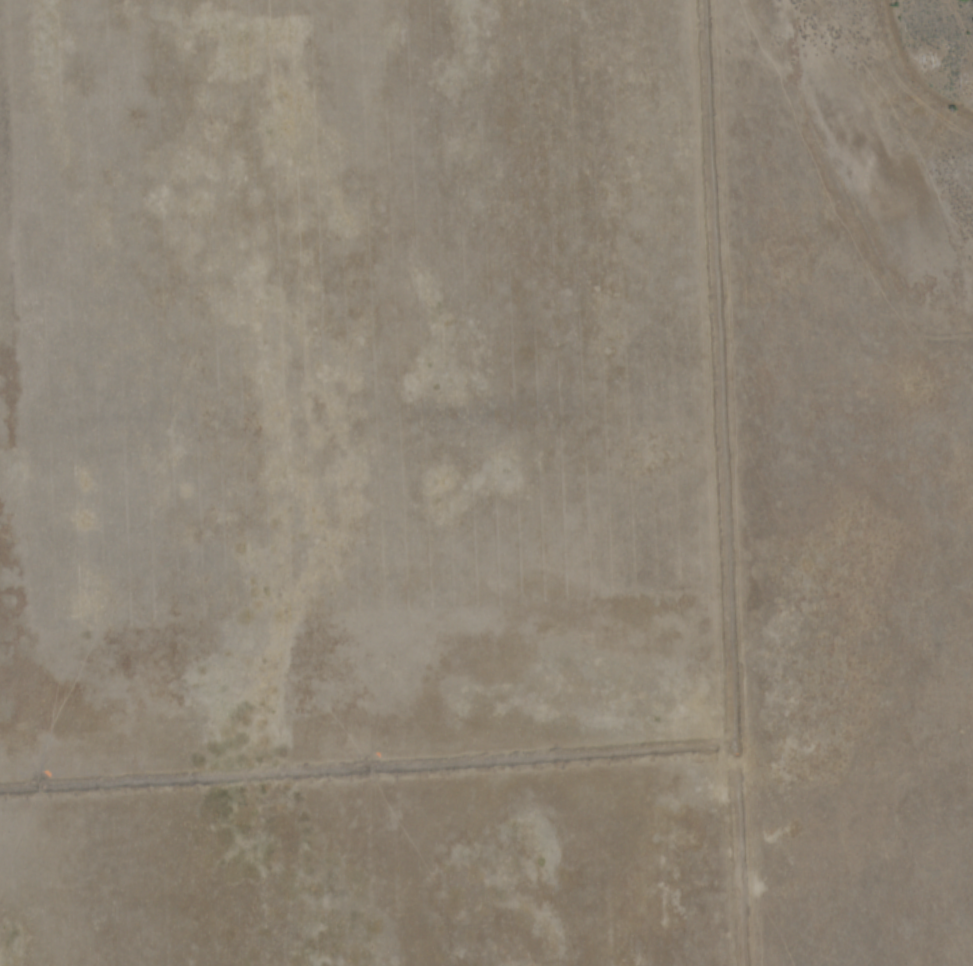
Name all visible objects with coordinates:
road: (958, 25)

